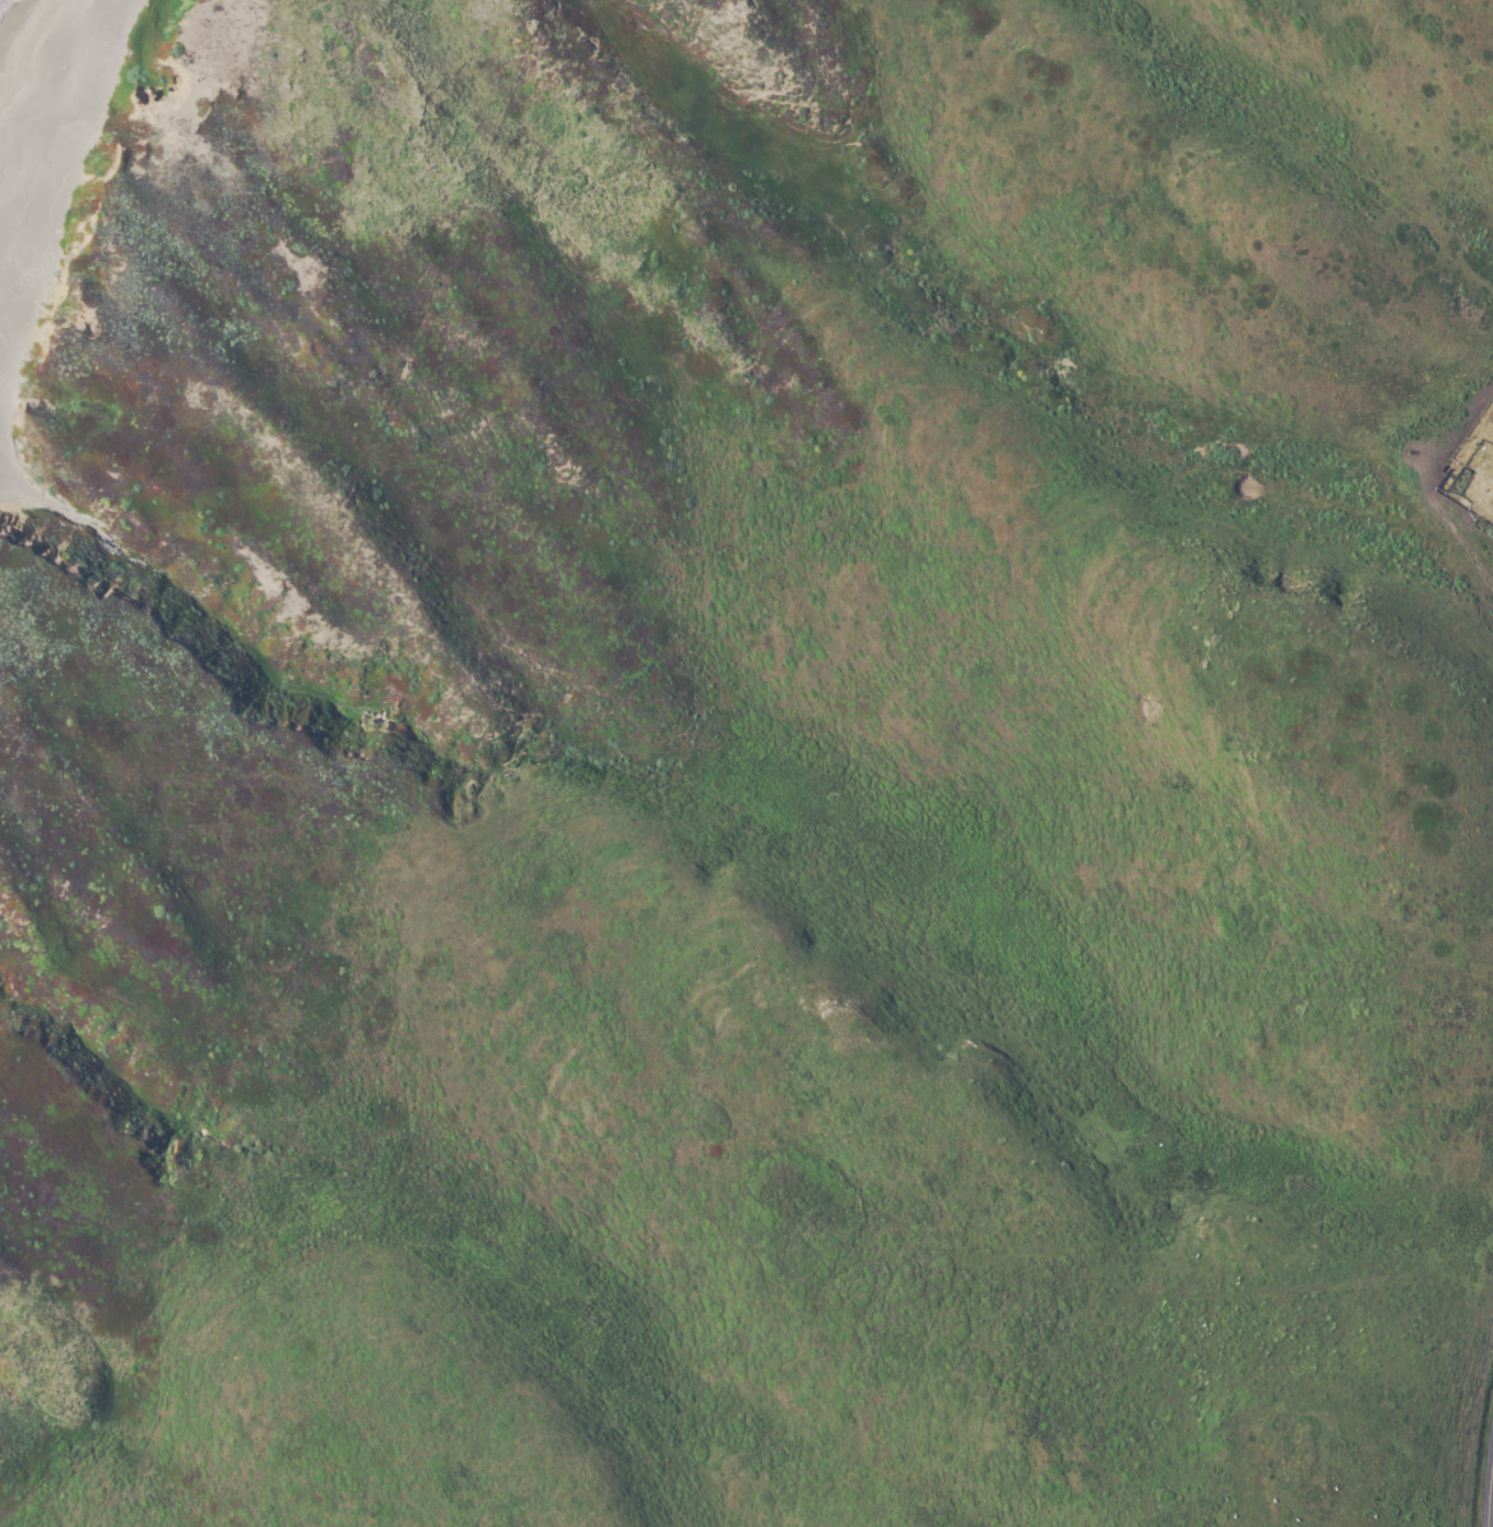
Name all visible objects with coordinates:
road: (1489, 1488)

